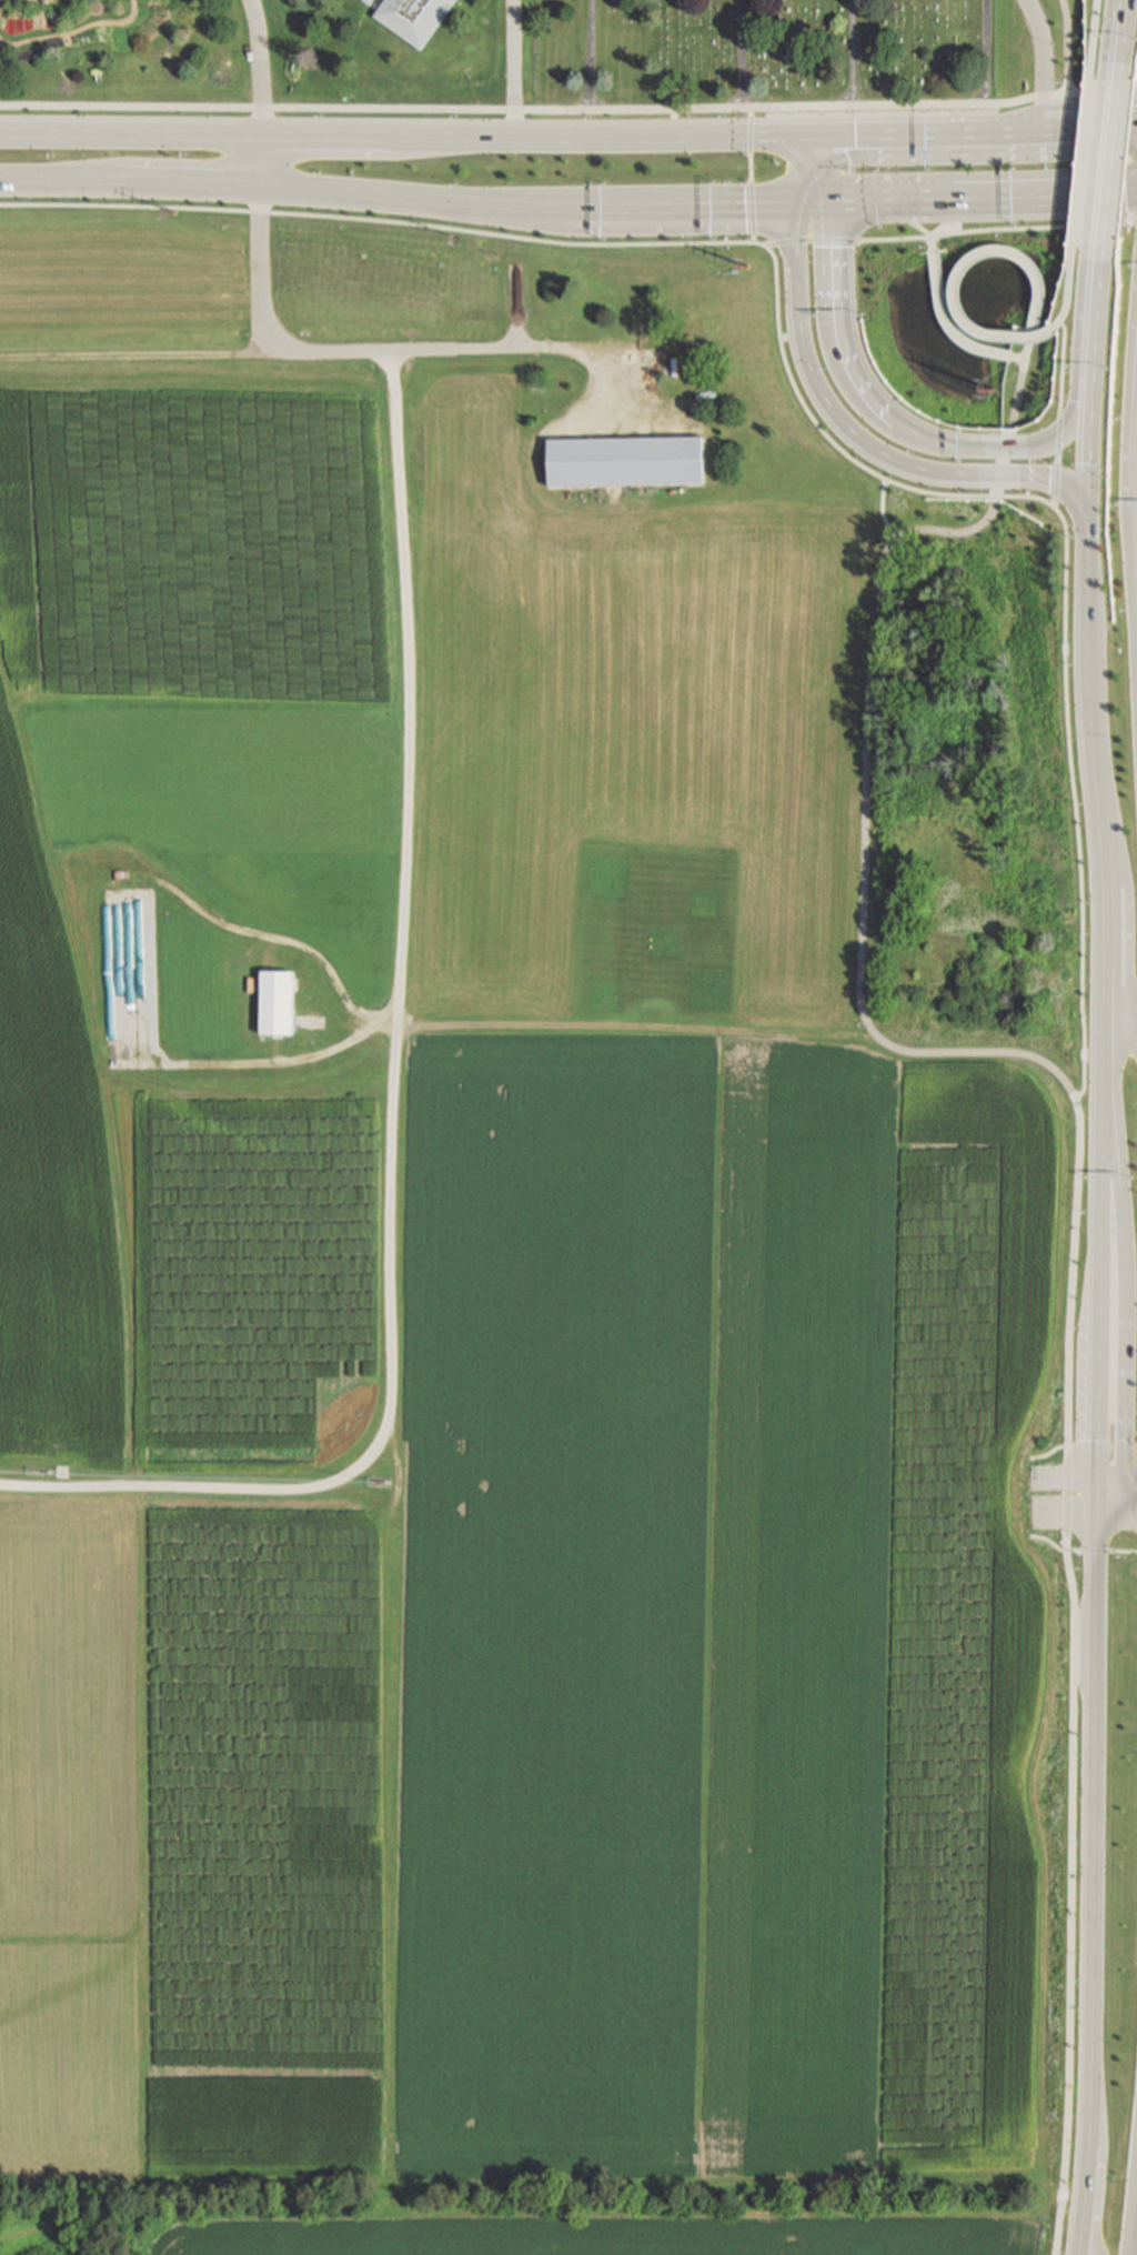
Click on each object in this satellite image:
building: (416, 19)
road: (1119, 30)
road: (1097, 37)
road: (1068, 43)
road: (852, 52)
road: (984, 52)
road: (742, 53)
road: (591, 56)
park: (763, 56)
road: (1043, 60)
crop: (265, 61)
road: (514, 66)
road: (1103, 86)
road: (262, 92)
road: (1026, 97)
road: (294, 106)
road: (786, 106)
road: (974, 127)
traffic signals: (811, 132)
road: (258, 133)
road: (663, 133)
road: (1108, 152)
road: (1086, 159)
road: (821, 167)
road: (752, 173)
road: (194, 184)
road: (984, 196)
traffic signals: (832, 202)
traffic signals: (795, 203)
road: (610, 206)
power tower: (110, 208)
road: (948, 217)
road: (1135, 218)
road: (913, 219)
power tower: (1069, 222)
road: (429, 223)
road: (995, 230)
power tower: (293, 239)
road: (932, 247)
power tower: (453, 253)
road: (260, 269)
power tower: (737, 272)
road: (959, 279)
road: (1071, 282)
road: (949, 322)
road: (1097, 331)
road: (1028, 350)
road: (203, 354)
road: (1066, 365)
road: (793, 378)
road: (1018, 392)
road: (835, 410)
road: (885, 412)
road: (1060, 458)
building: (713, 461)
building: (626, 462)
road: (1093, 462)
building: (536, 469)
road: (885, 509)
traffic signals: (1095, 509)
road: (955, 531)
road: (1068, 713)
road: (401, 984)
road: (1115, 991)
building: (279, 1003)
road: (1126, 1024)
road: (905, 1049)
crop: (524, 1266)
road: (1129, 1303)
road: (1103, 1445)
traffic signals: (1100, 1475)
road: (1116, 1475)
traffic signals: (1131, 1475)
road: (1134, 1475)
road: (1134, 1477)
road: (1099, 1494)
road: (1118, 1513)
traffic signals: (1099, 1514)
road: (1068, 1851)
road: (1094, 1884)
road: (1134, 2212)

